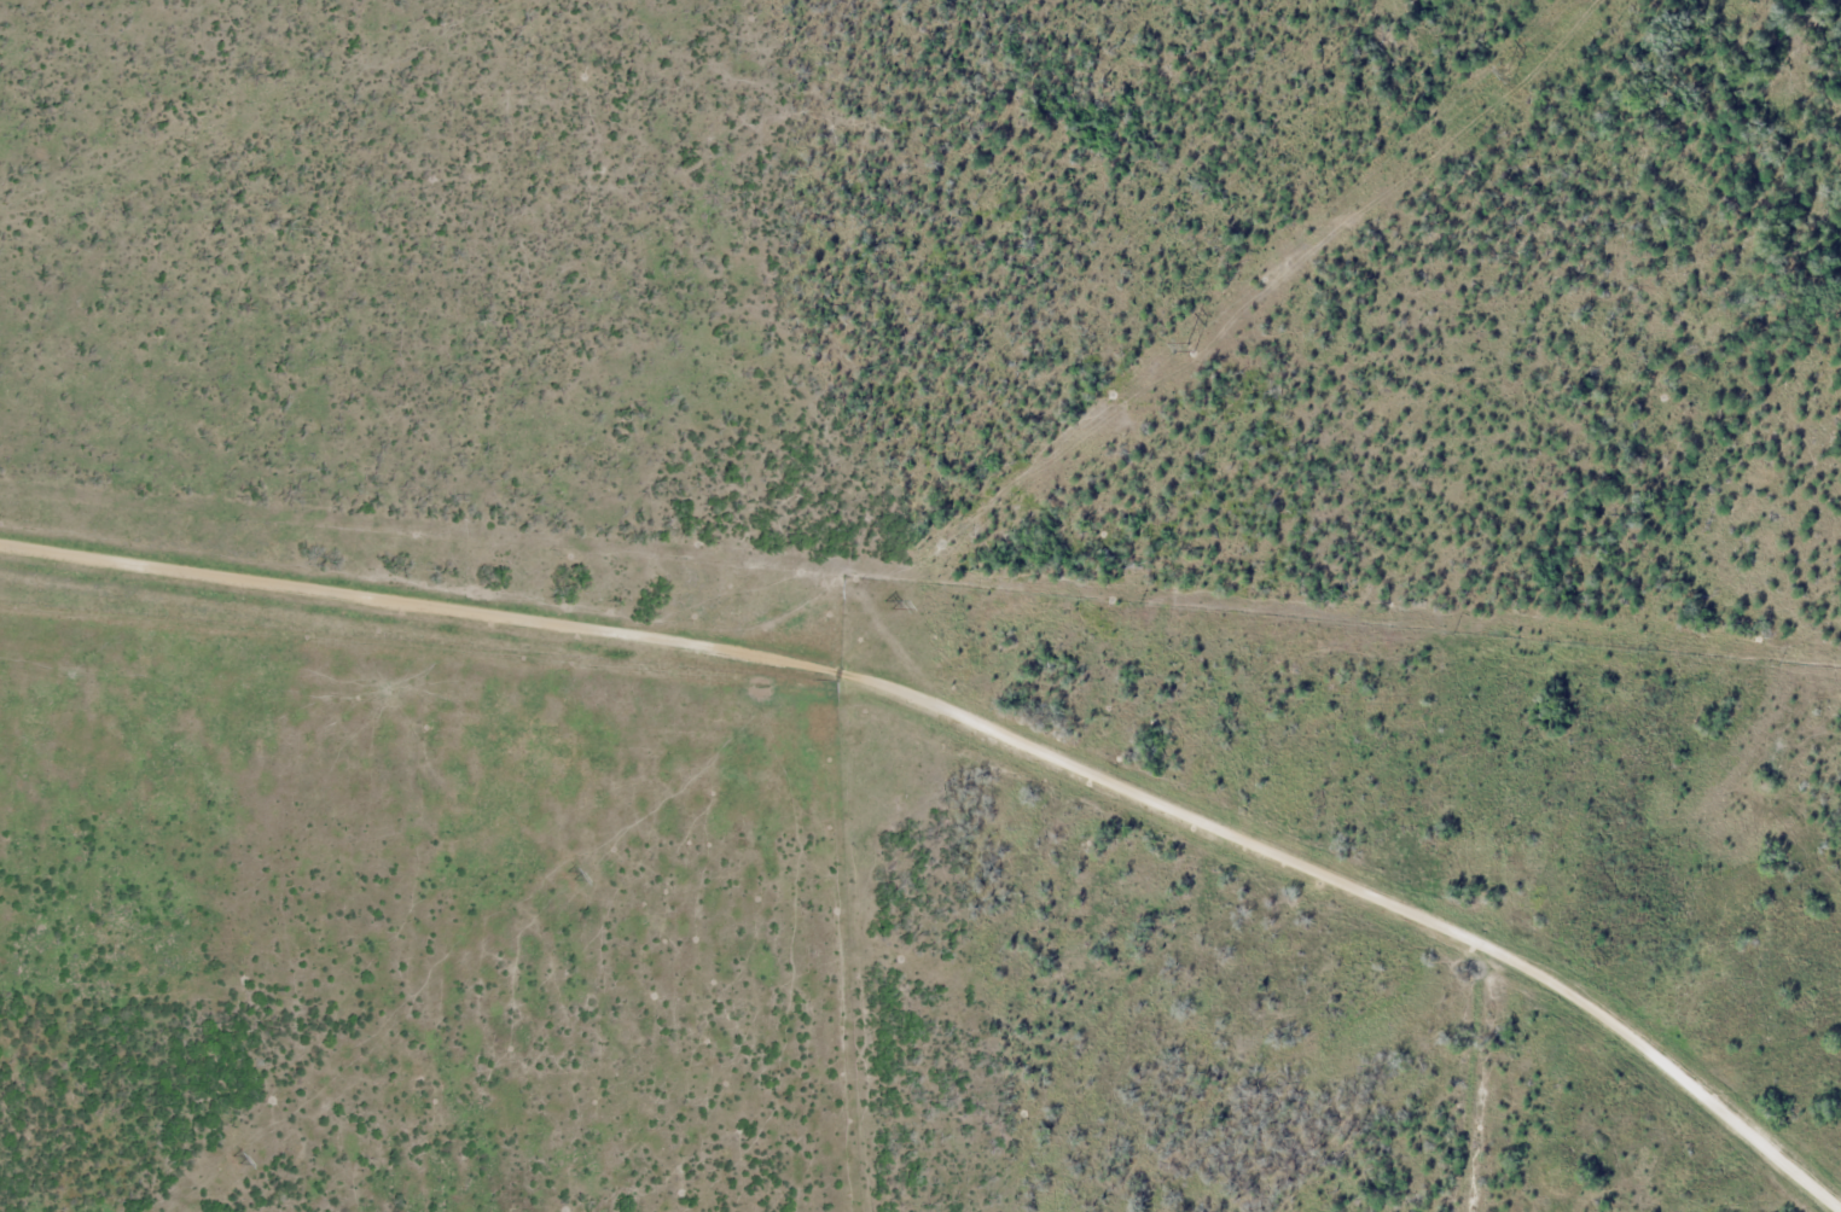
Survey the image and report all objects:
power tower: (1511, 76)
power tower: (1192, 348)
power tower: (888, 605)
road: (974, 722)
power tower: (571, 875)
power tower: (238, 1159)

